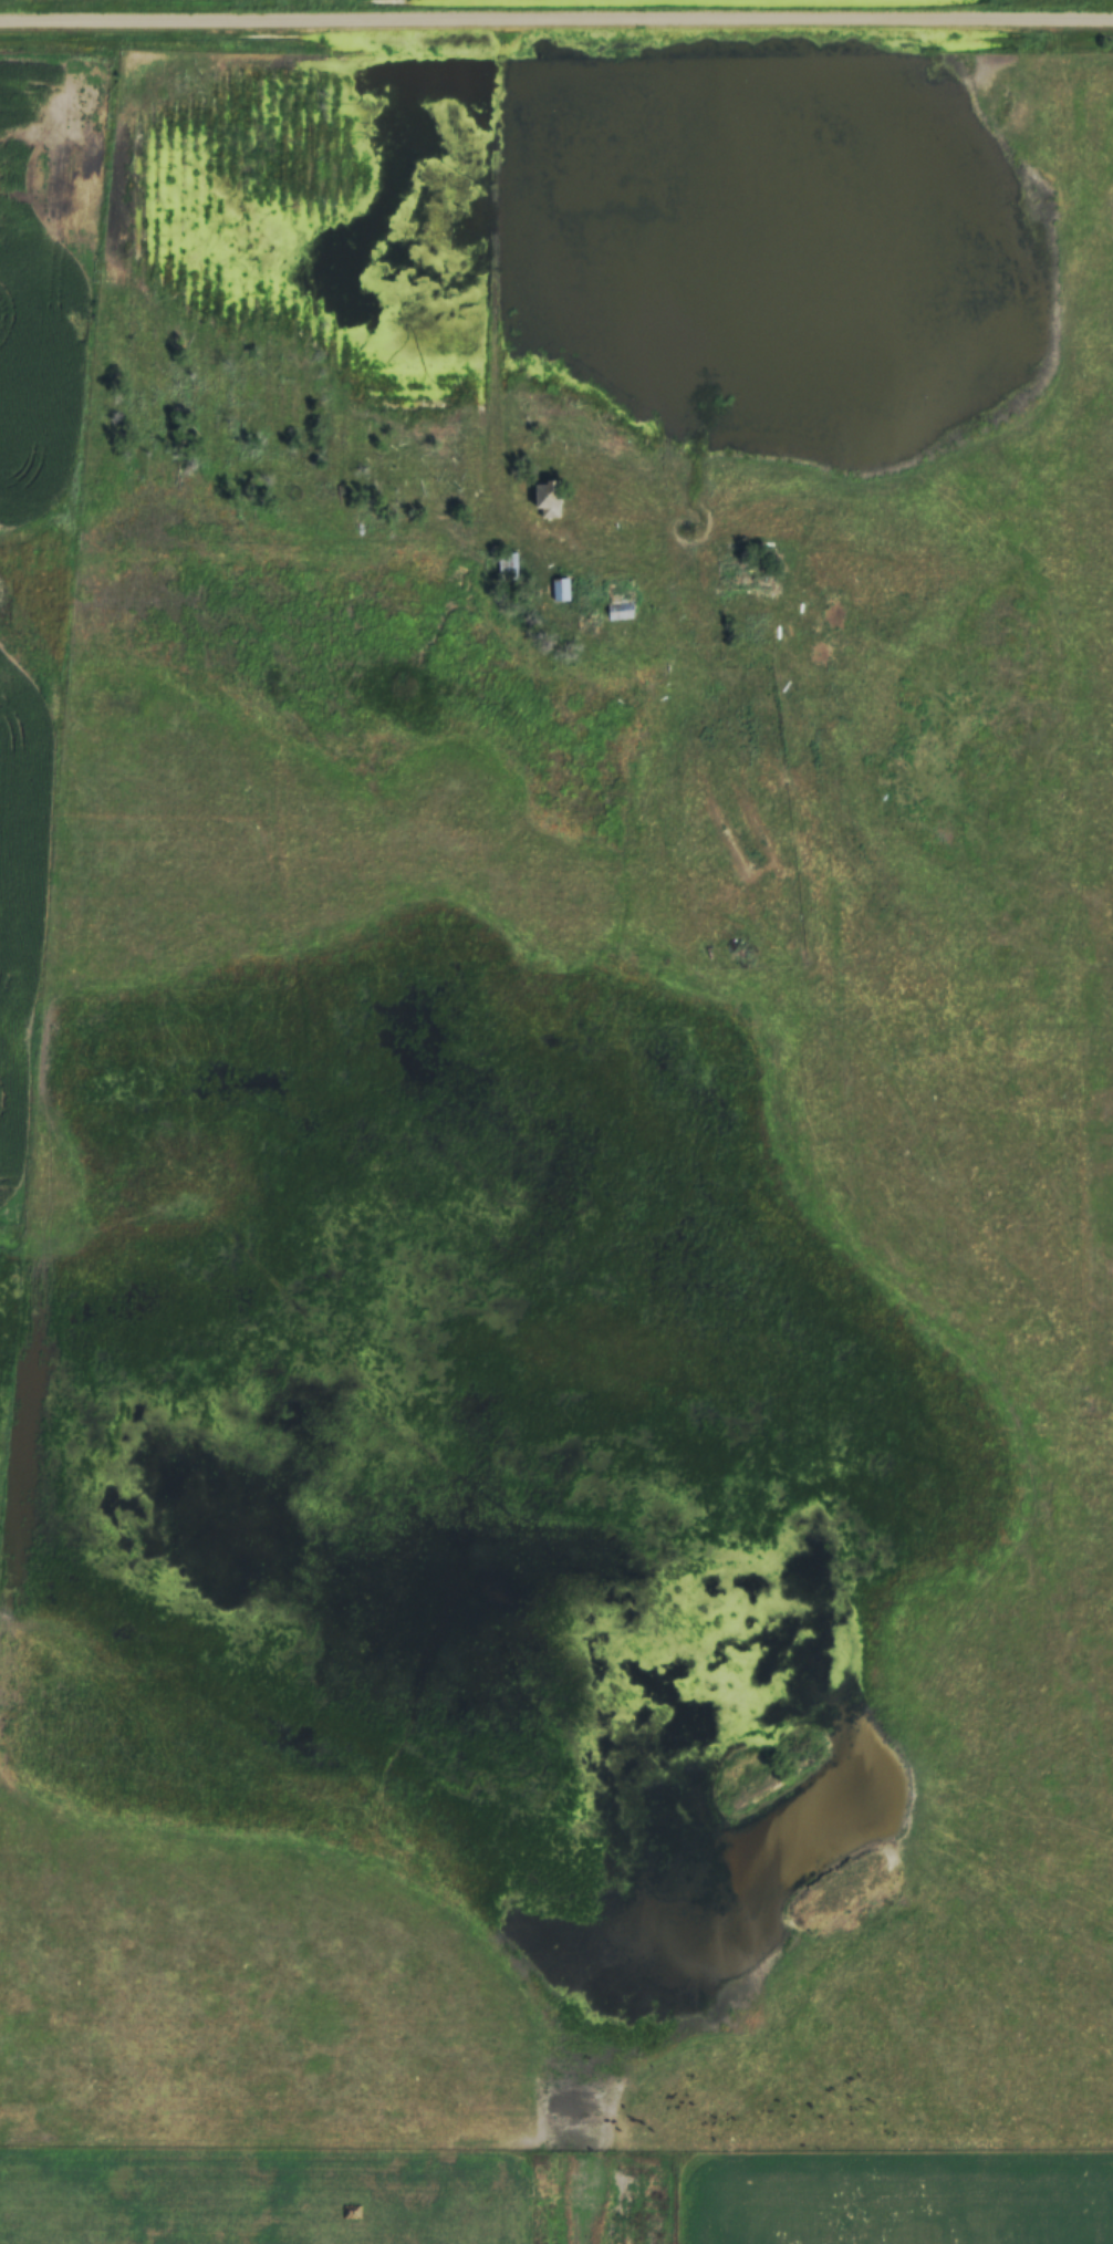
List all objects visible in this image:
road: (274, 18)
road: (830, 22)
road: (537, 248)
building: (547, 498)
building: (507, 565)
building: (560, 590)
building: (621, 610)

